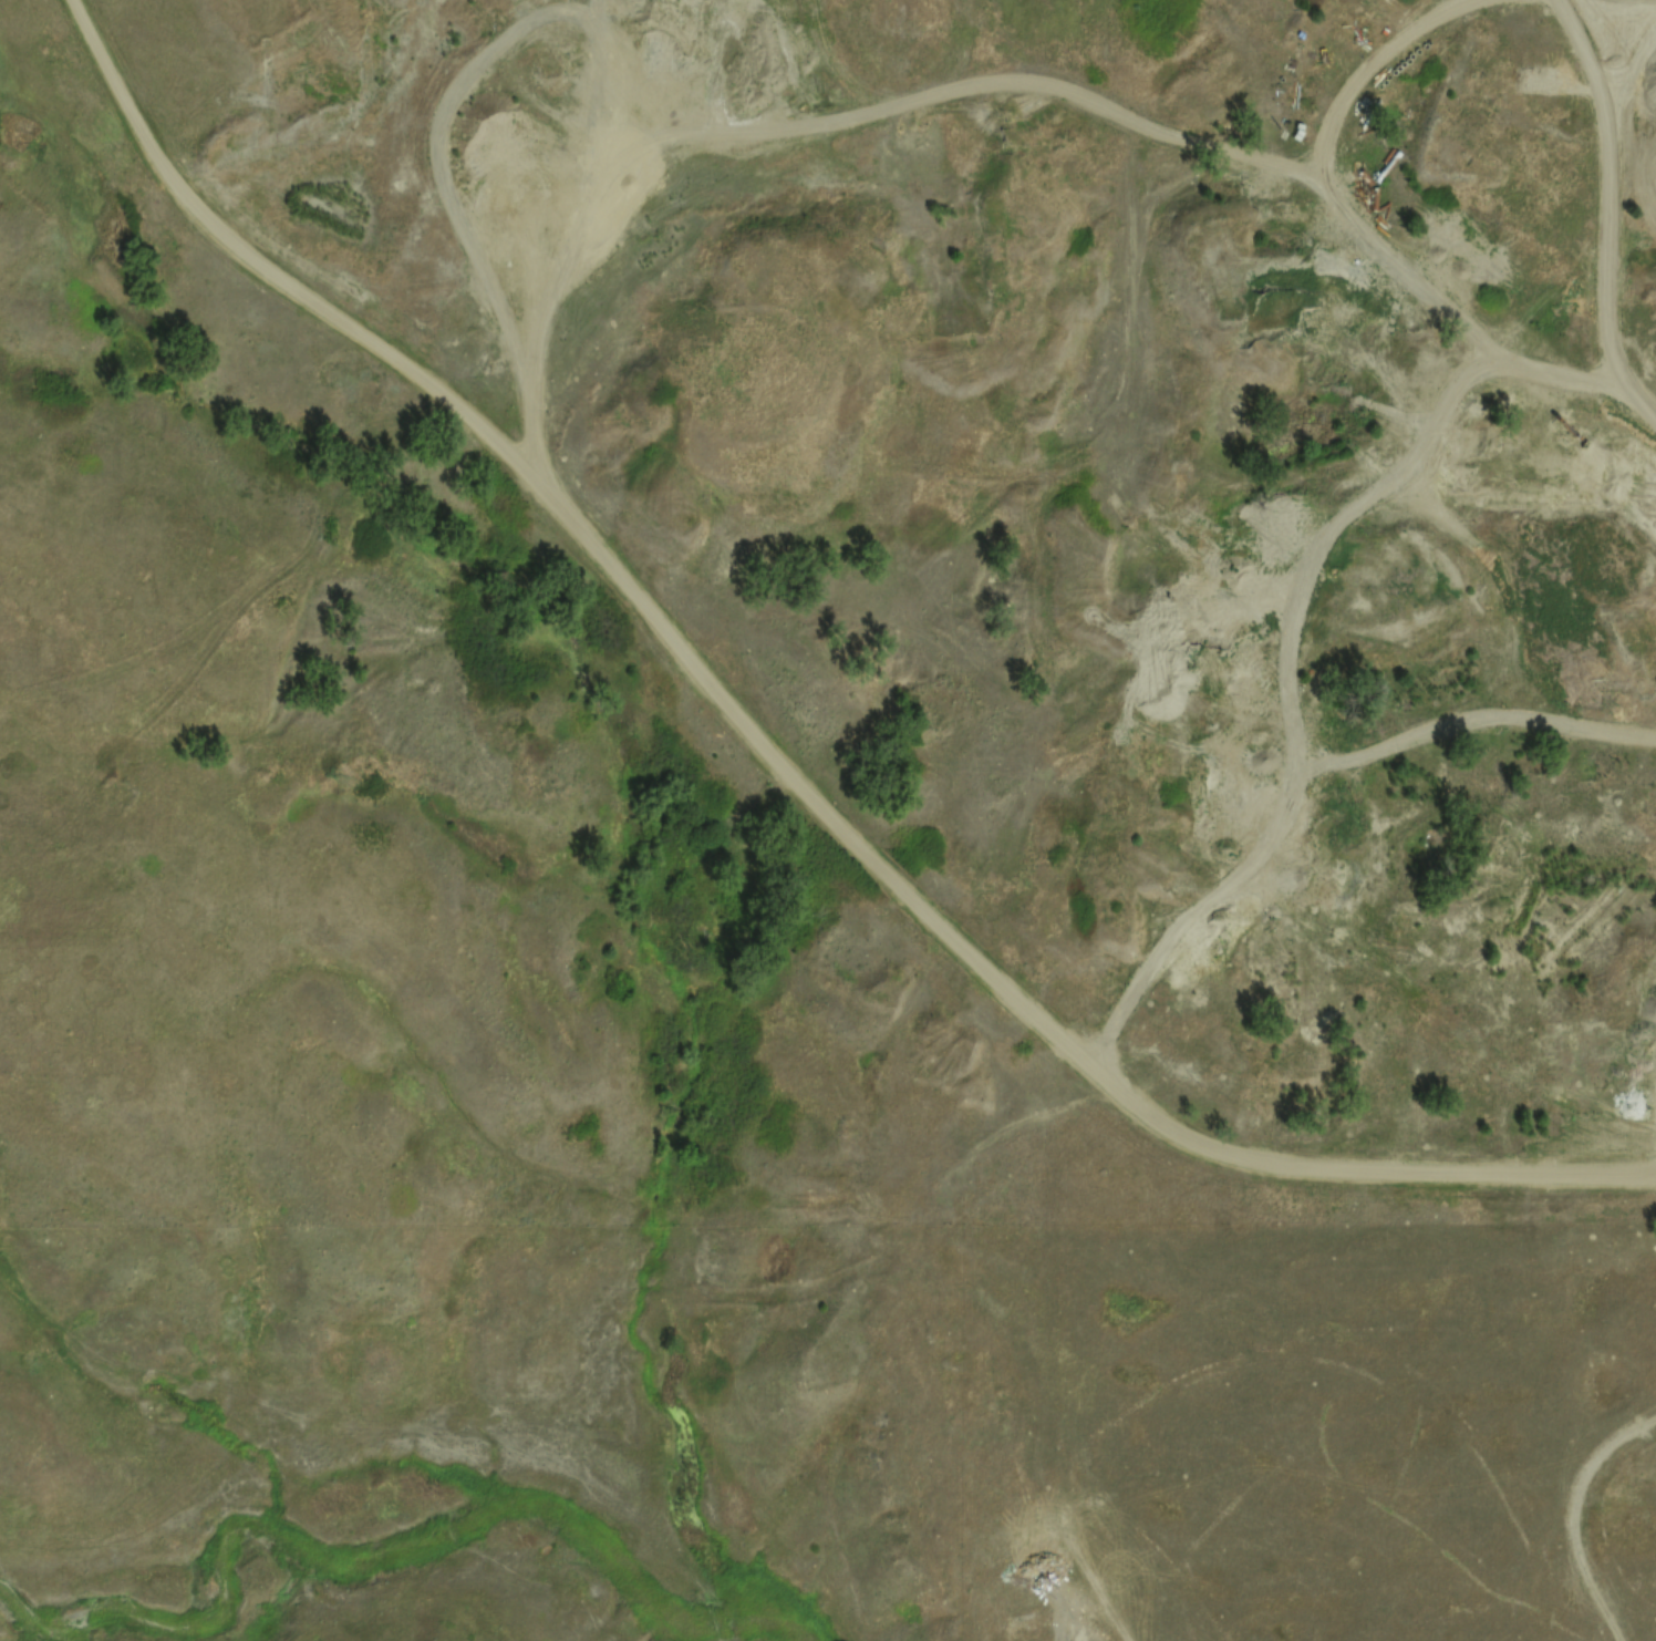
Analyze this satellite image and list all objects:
road: (1045, 85)
road: (1611, 209)
road: (776, 752)
road: (1332, 807)

